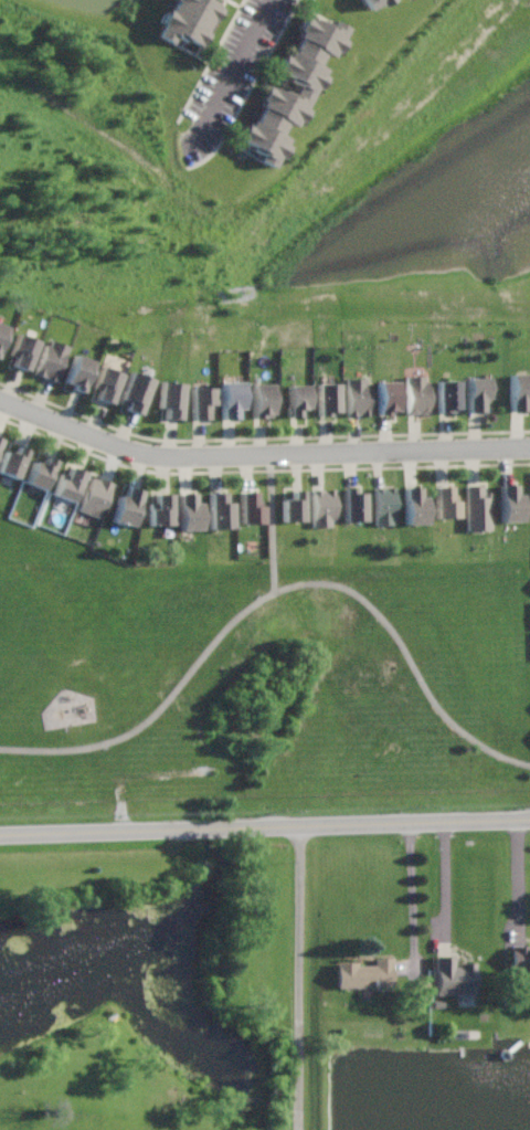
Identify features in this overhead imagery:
building: (374, 2)
building: (190, 20)
road: (233, 76)
building: (277, 92)
building: (2, 328)
building: (22, 348)
building: (51, 360)
building: (78, 370)
building: (106, 382)
building: (136, 391)
building: (519, 391)
building: (476, 393)
building: (417, 394)
building: (448, 395)
building: (357, 397)
building: (388, 397)
building: (297, 398)
building: (328, 398)
building: (170, 399)
building: (230, 399)
building: (261, 400)
building: (201, 401)
building: (0, 441)
road: (259, 456)
building: (12, 461)
building: (39, 473)
building: (67, 483)
building: (95, 496)
building: (446, 501)
building: (509, 503)
building: (126, 505)
building: (354, 505)
building: (385, 505)
building: (294, 506)
building: (324, 506)
building: (415, 506)
building: (252, 507)
building: (478, 508)
building: (159, 509)
building: (219, 510)
building: (188, 511)
road: (273, 522)
road: (274, 590)
road: (265, 827)
road: (523, 876)
road: (444, 881)
road: (411, 894)
building: (520, 959)
building: (365, 974)
building: (454, 976)
road: (303, 979)

